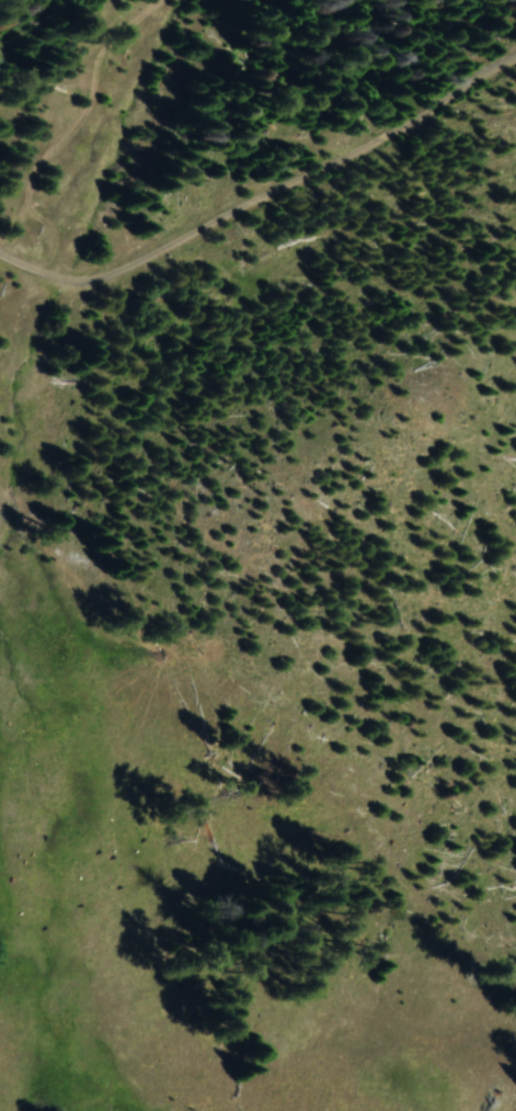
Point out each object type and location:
road: (76, 120)
road: (257, 125)

